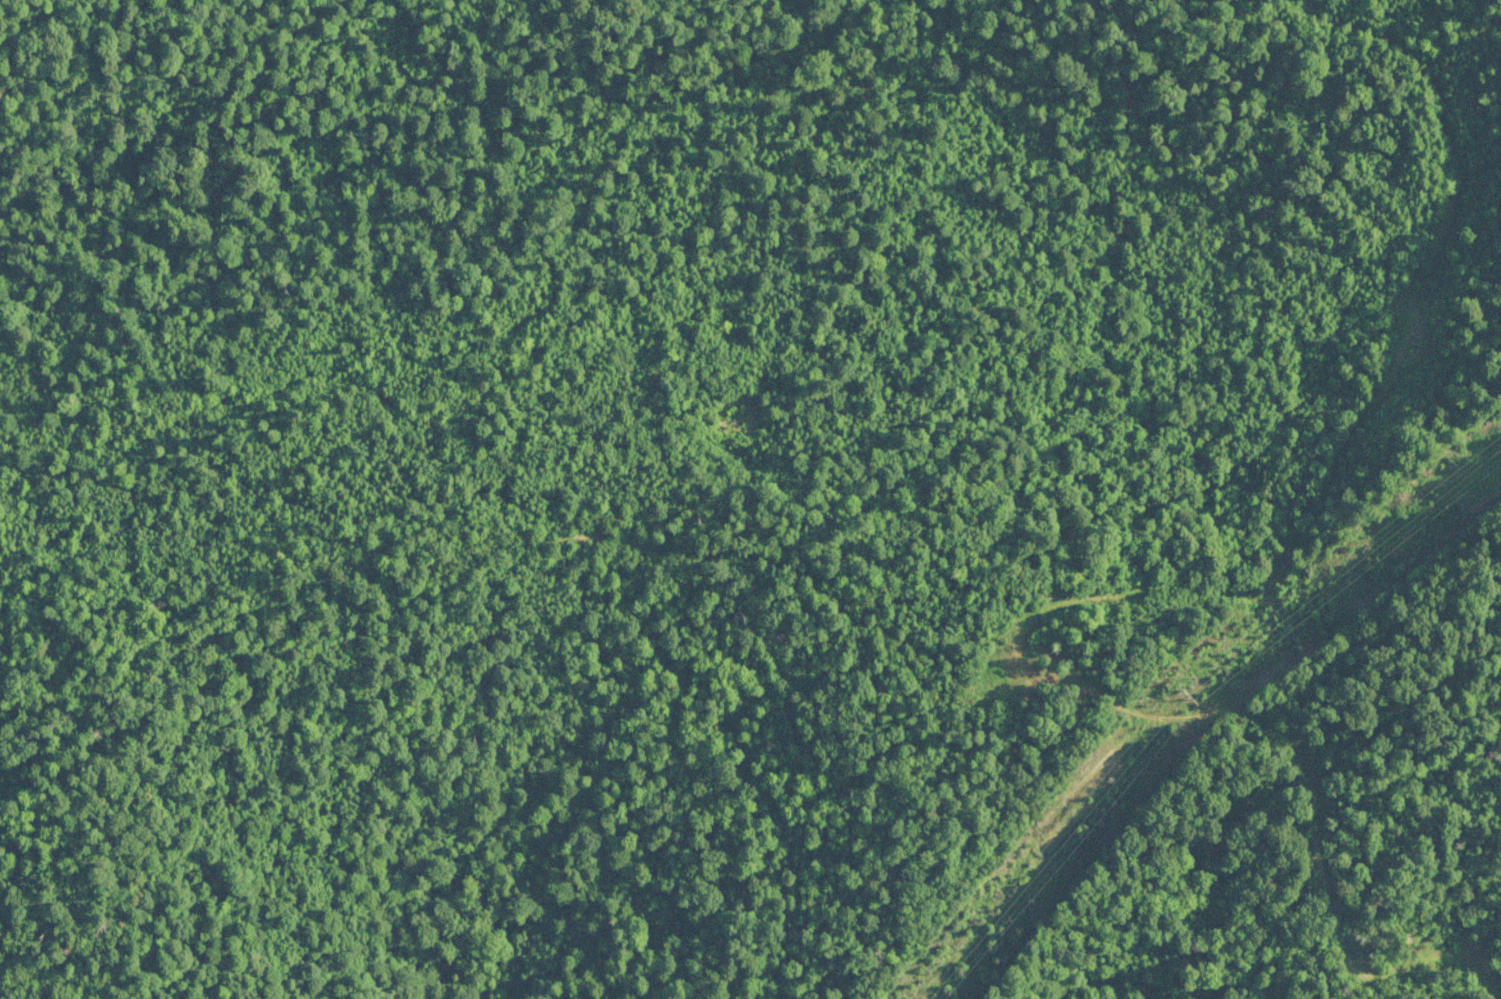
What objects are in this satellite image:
power tower: (1177, 687)

